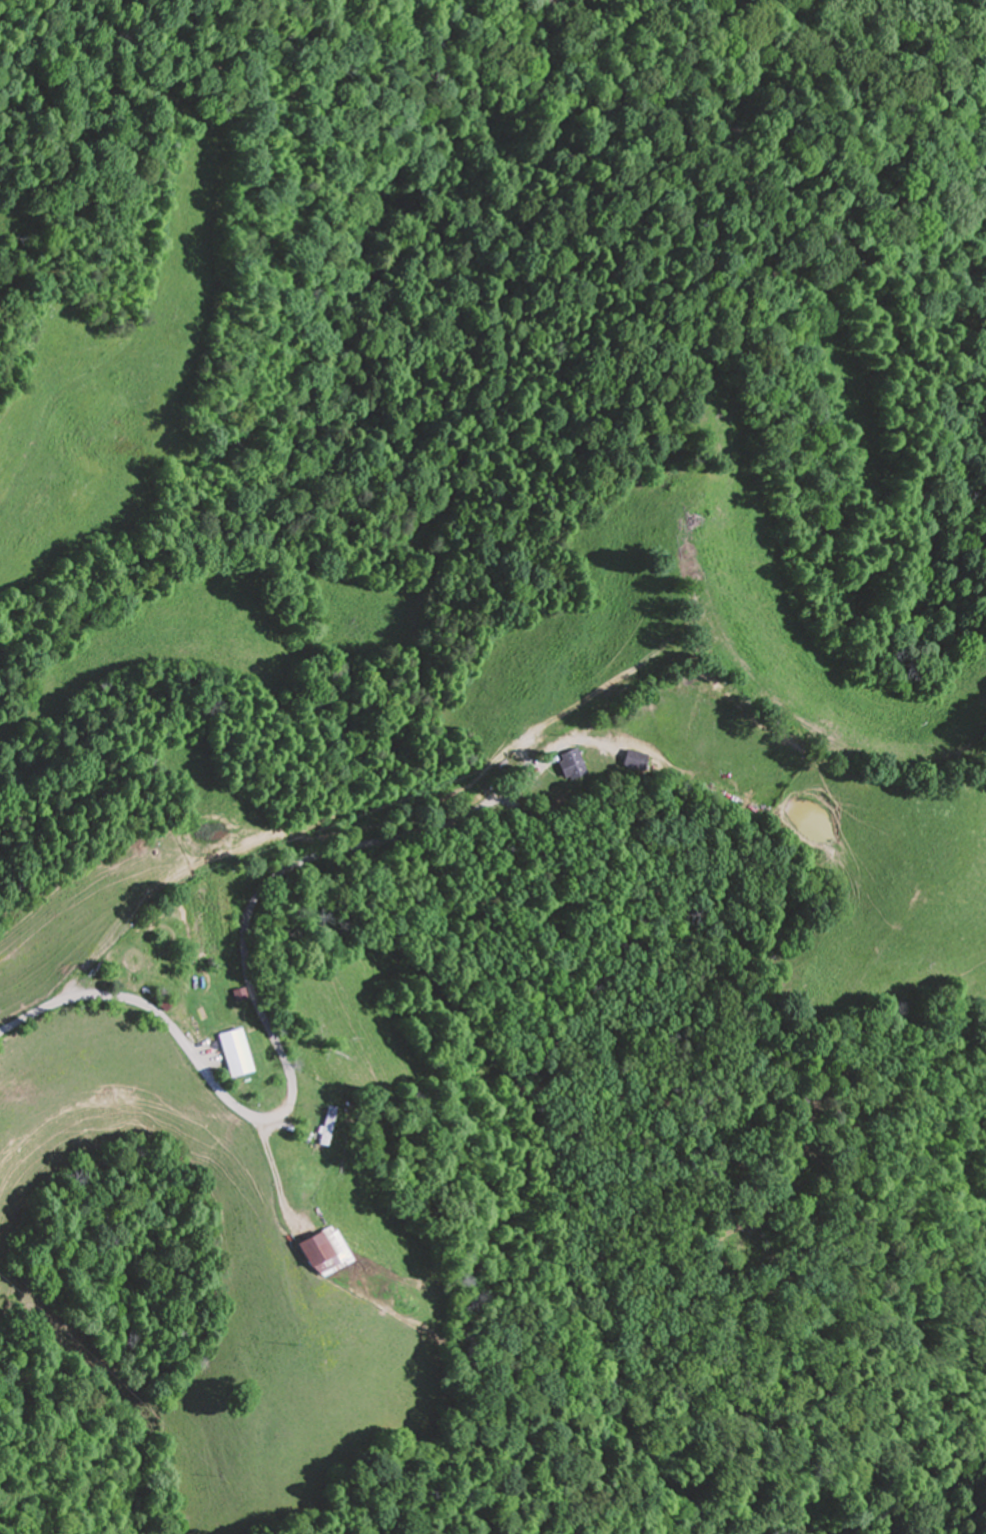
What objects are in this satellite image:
building: (636, 760)
building: (570, 764)
road: (258, 893)
building: (226, 1054)
road: (265, 1123)
building: (319, 1127)
building: (314, 1251)

